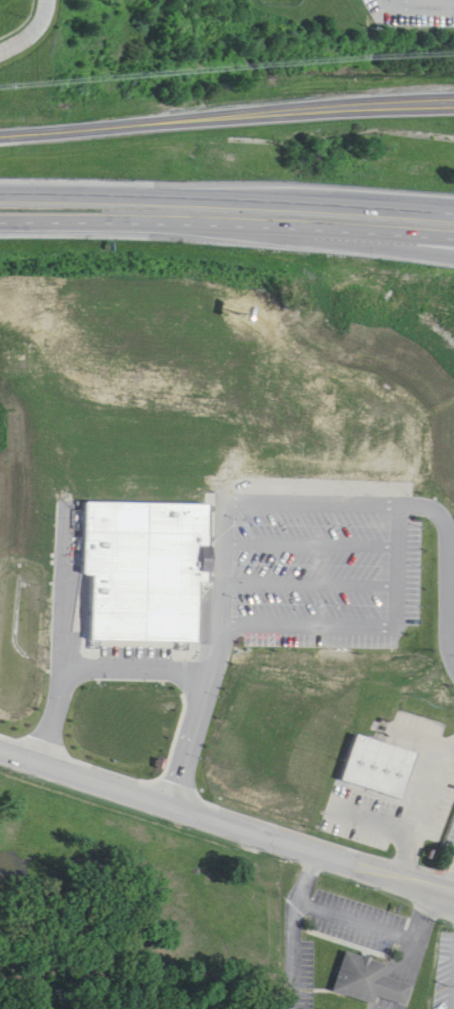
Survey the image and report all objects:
road: (28, 28)
road: (226, 105)
road: (227, 196)
road: (227, 230)
road: (380, 245)
road: (398, 577)
road: (157, 671)
building: (372, 753)
road: (426, 803)
road: (226, 814)
road: (362, 915)
building: (370, 983)

